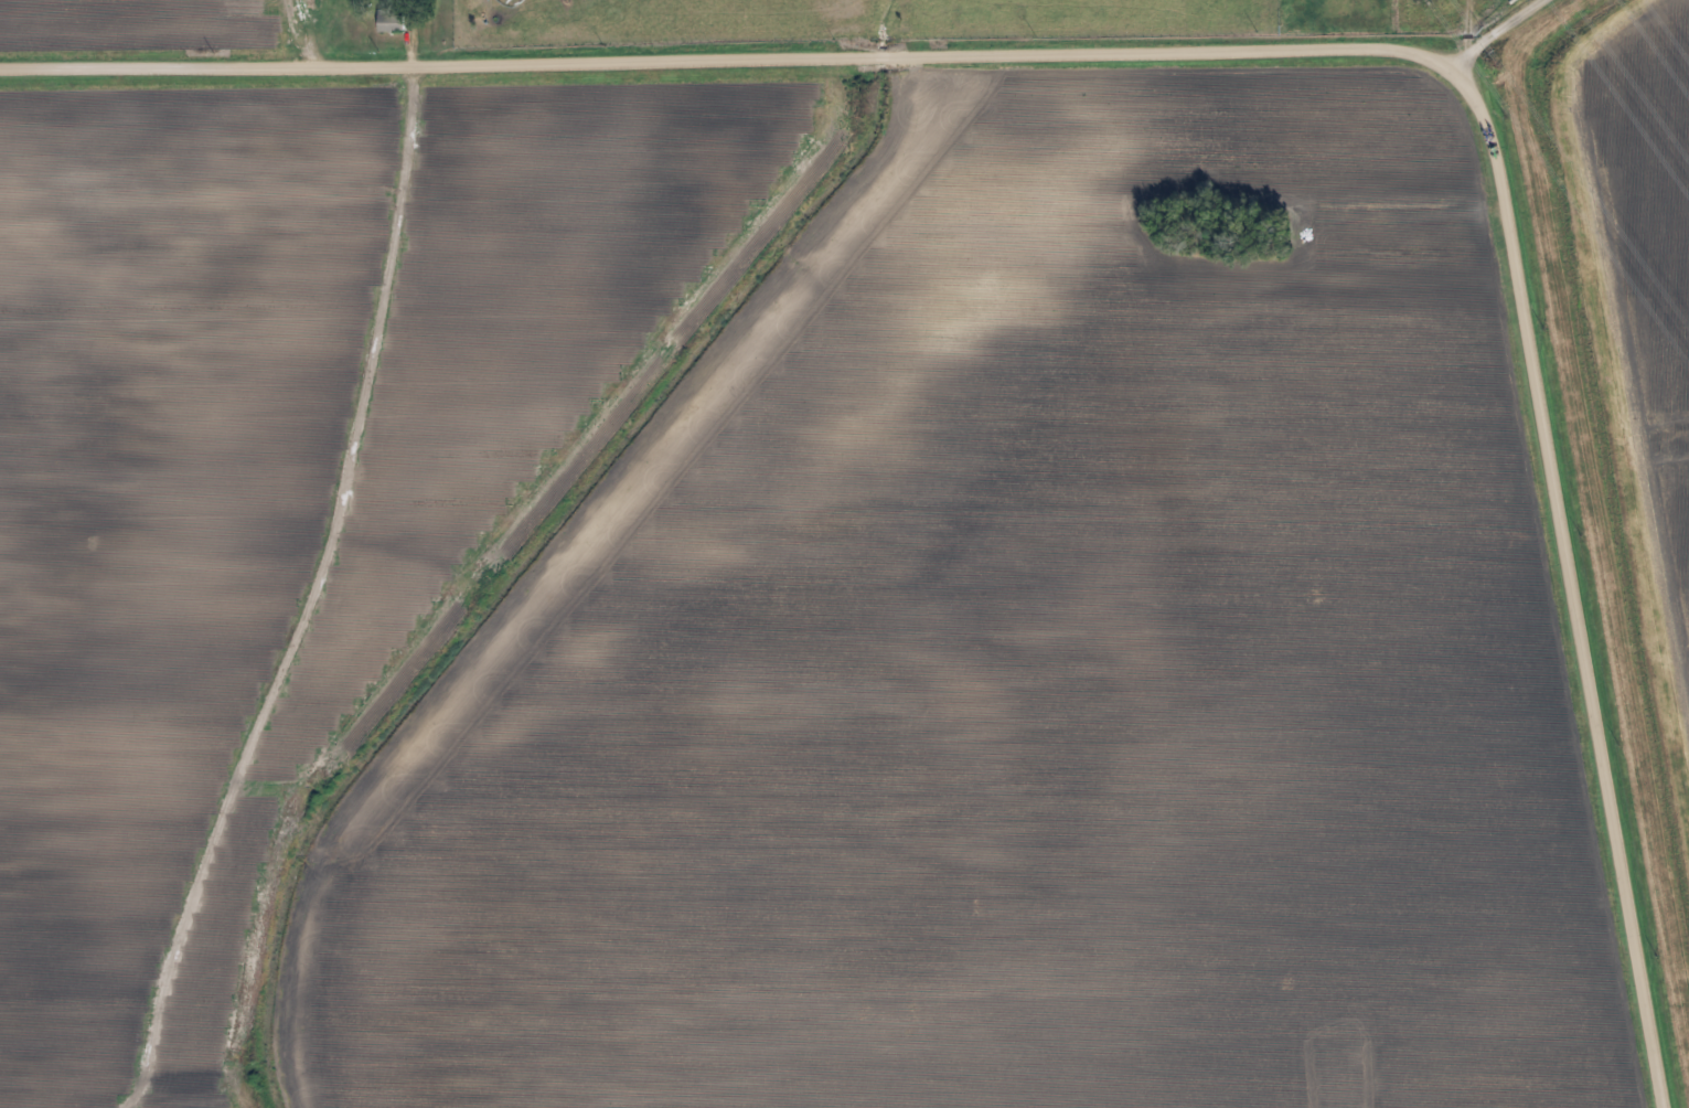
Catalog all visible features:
road: (1435, 15)
road: (1276, 33)

